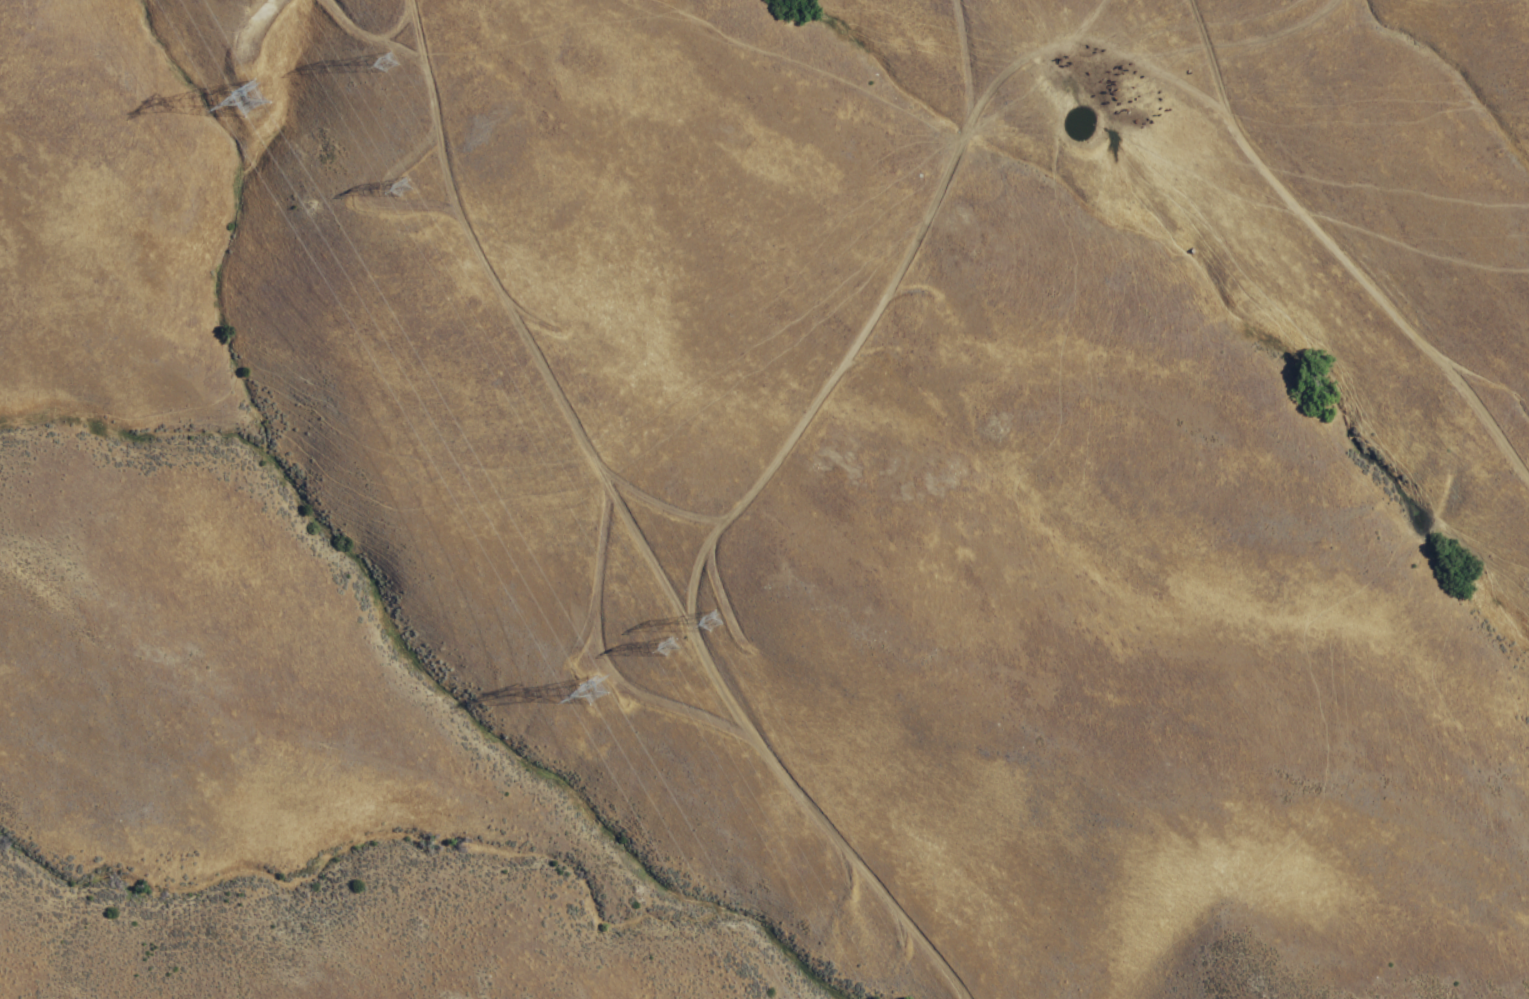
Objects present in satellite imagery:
road: (1084, 39)
power tower: (402, 56)
power tower: (269, 91)
power tower: (418, 184)
road: (1341, 246)
road: (507, 302)
road: (722, 513)
power tower: (722, 624)
power tower: (681, 642)
power tower: (605, 681)

